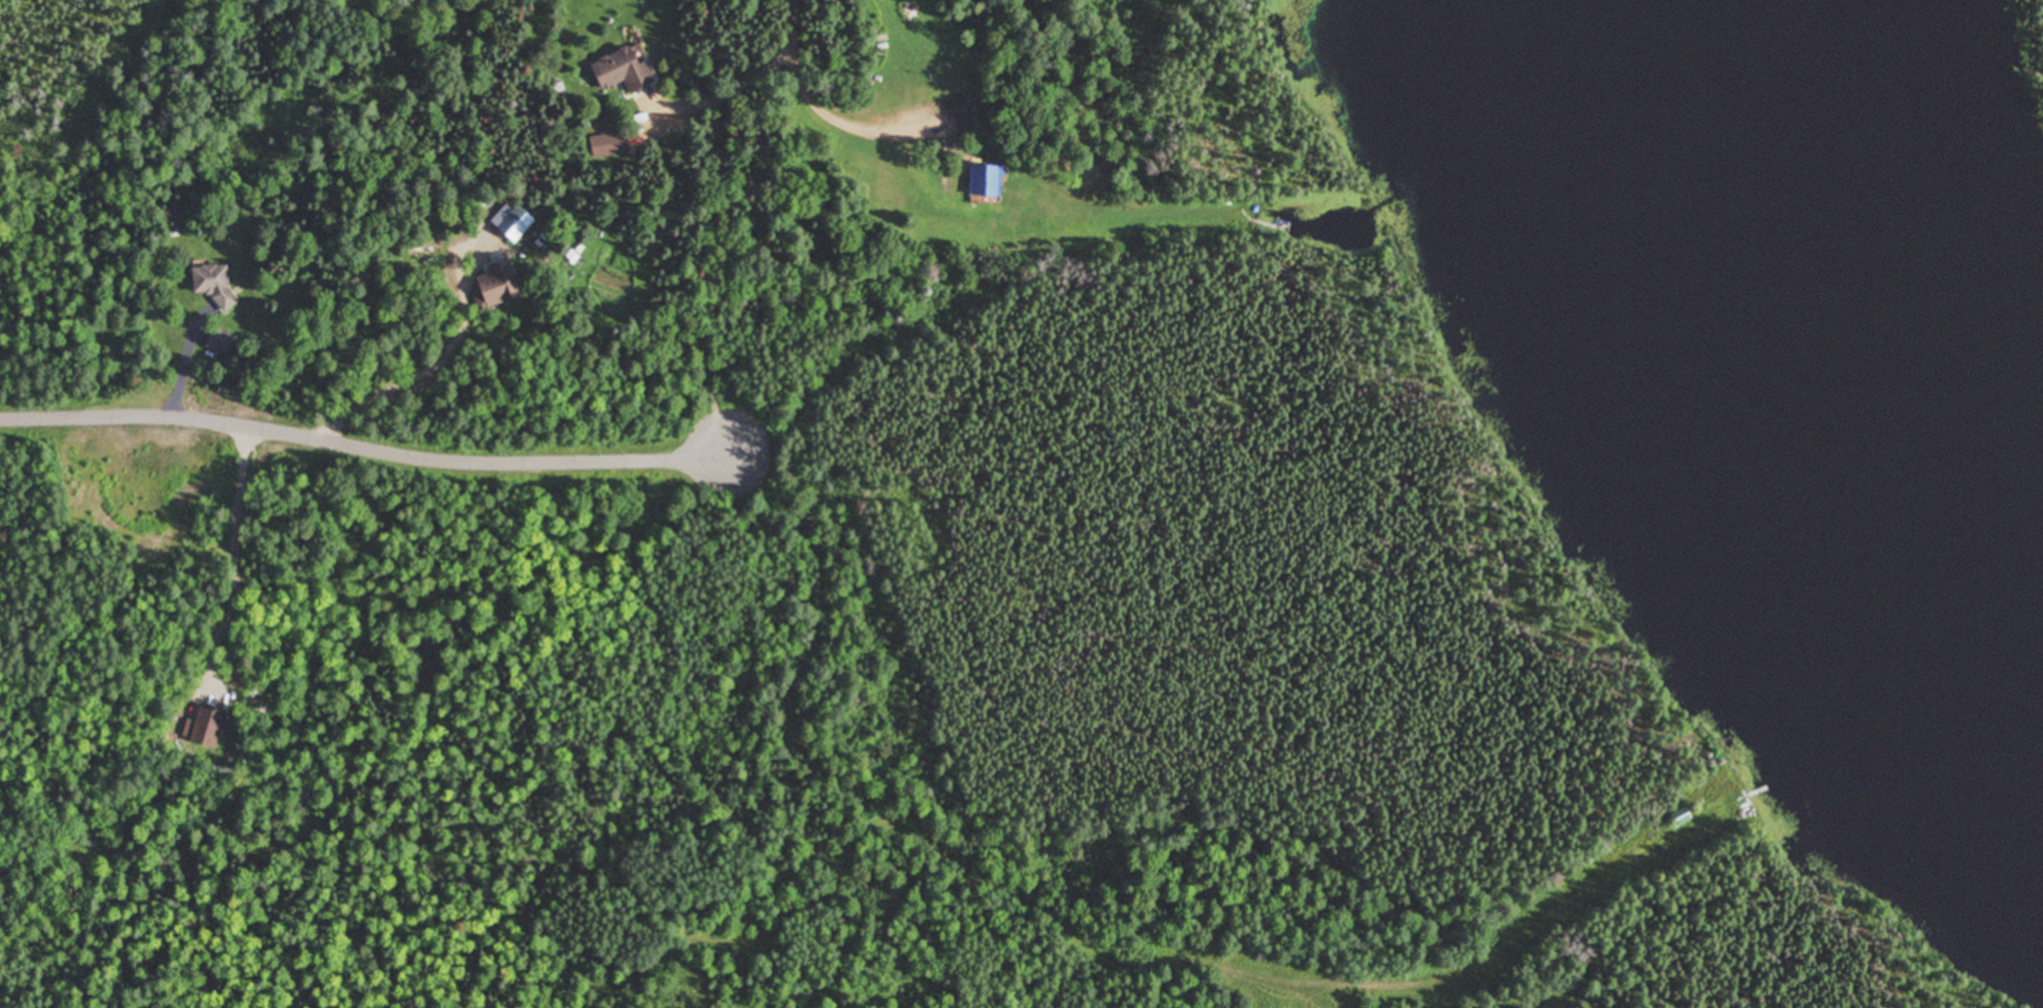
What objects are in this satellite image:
road: (799, 23)
building: (623, 71)
building: (961, 112)
building: (987, 181)
building: (516, 224)
building: (213, 283)
building: (499, 284)
building: (220, 342)
road: (494, 452)
building: (1682, 816)

